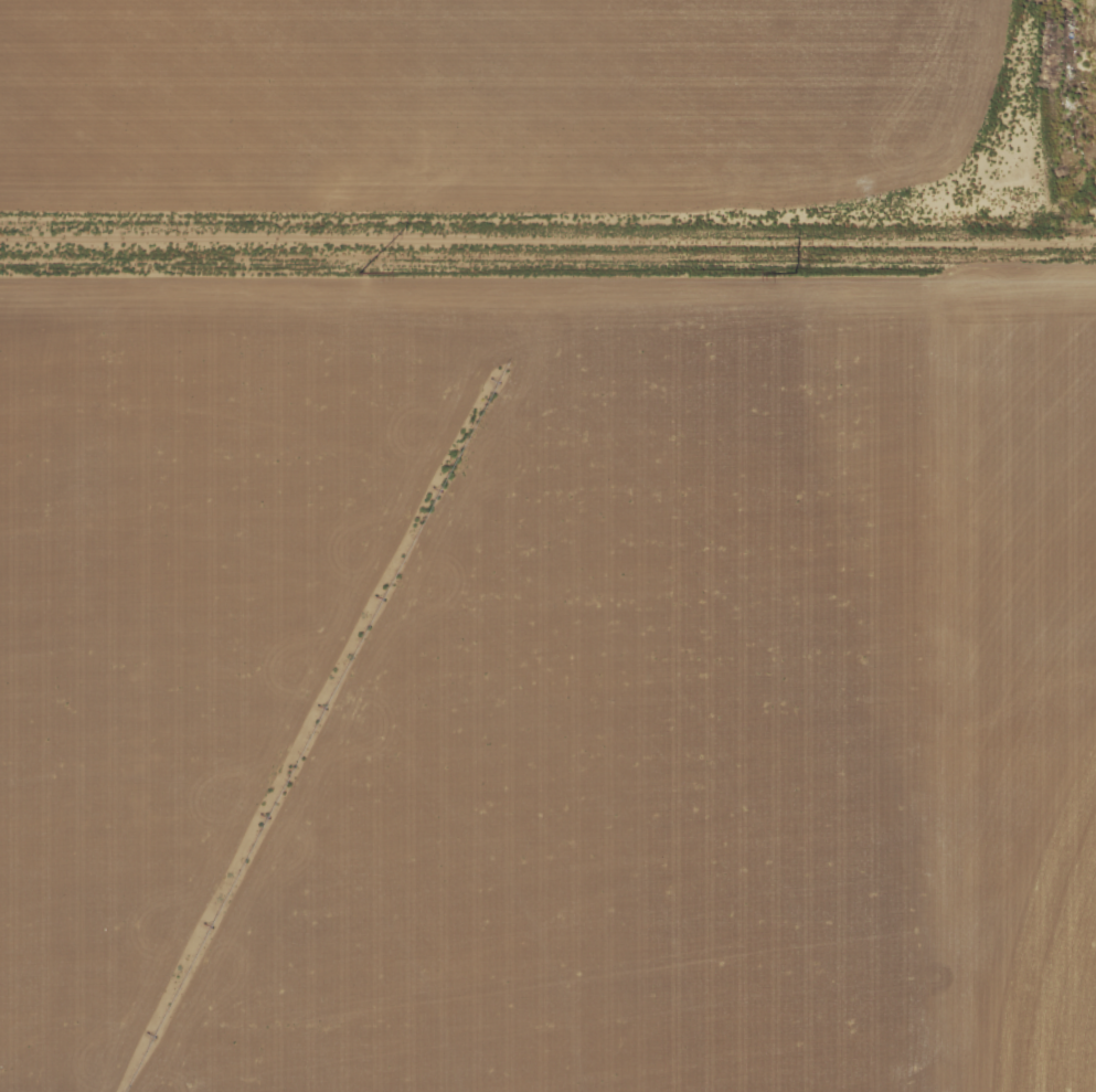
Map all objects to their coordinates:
road: (547, 245)
road: (872, 672)

